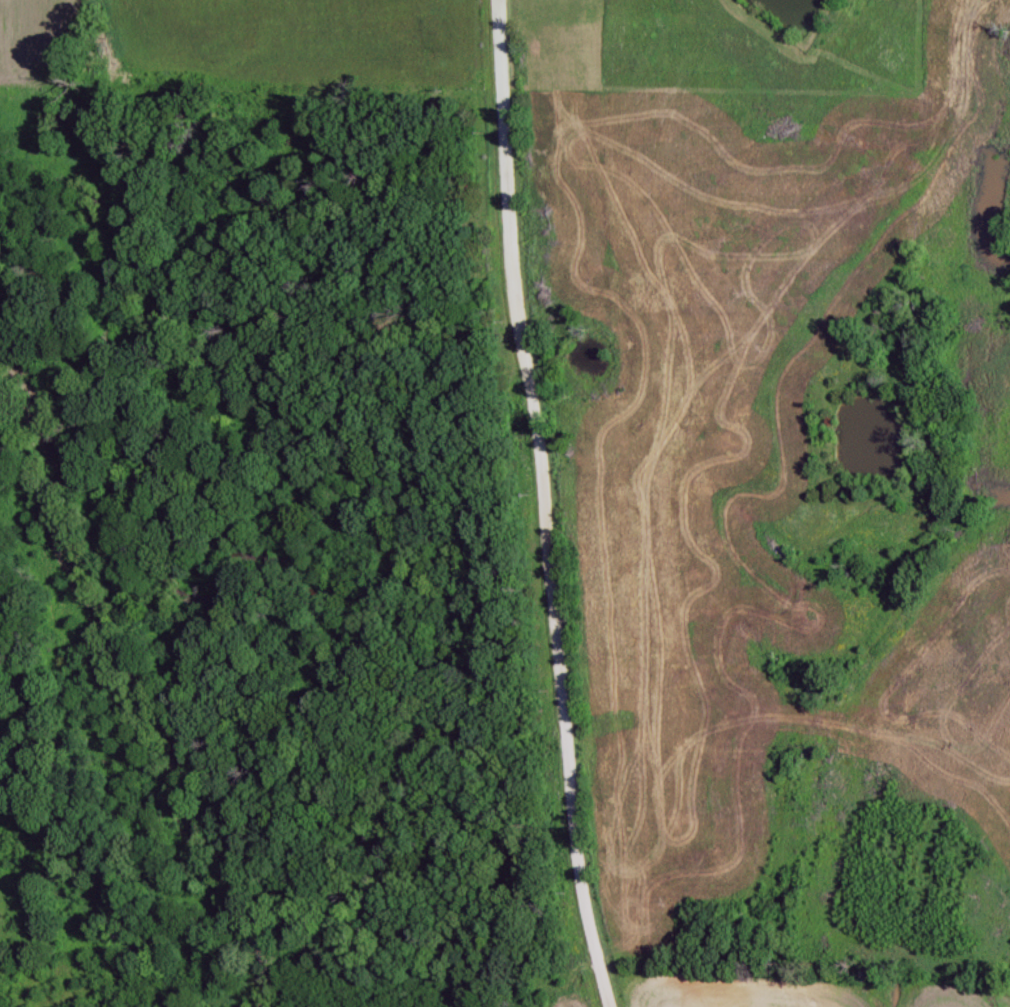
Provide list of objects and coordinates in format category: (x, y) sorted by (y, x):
road: (546, 505)
building: (609, 575)
building: (634, 769)

